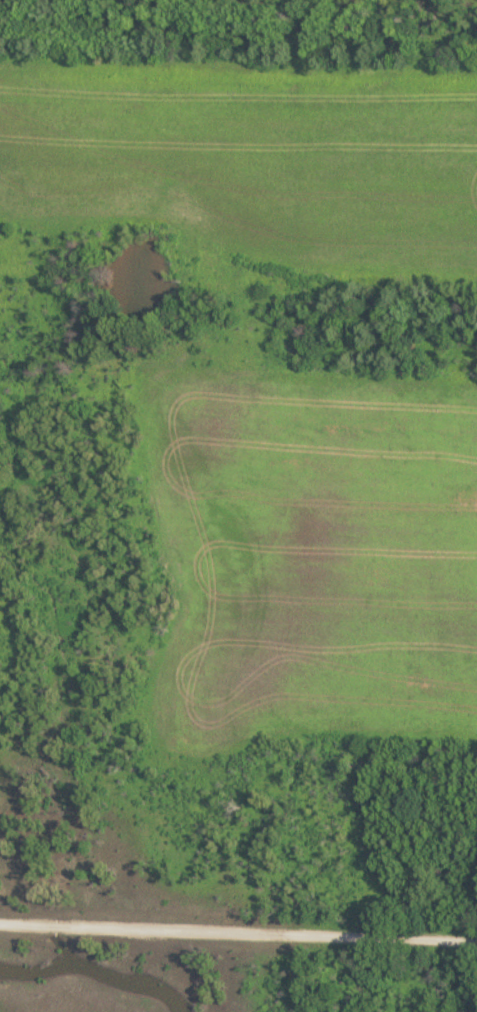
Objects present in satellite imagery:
road: (238, 929)

